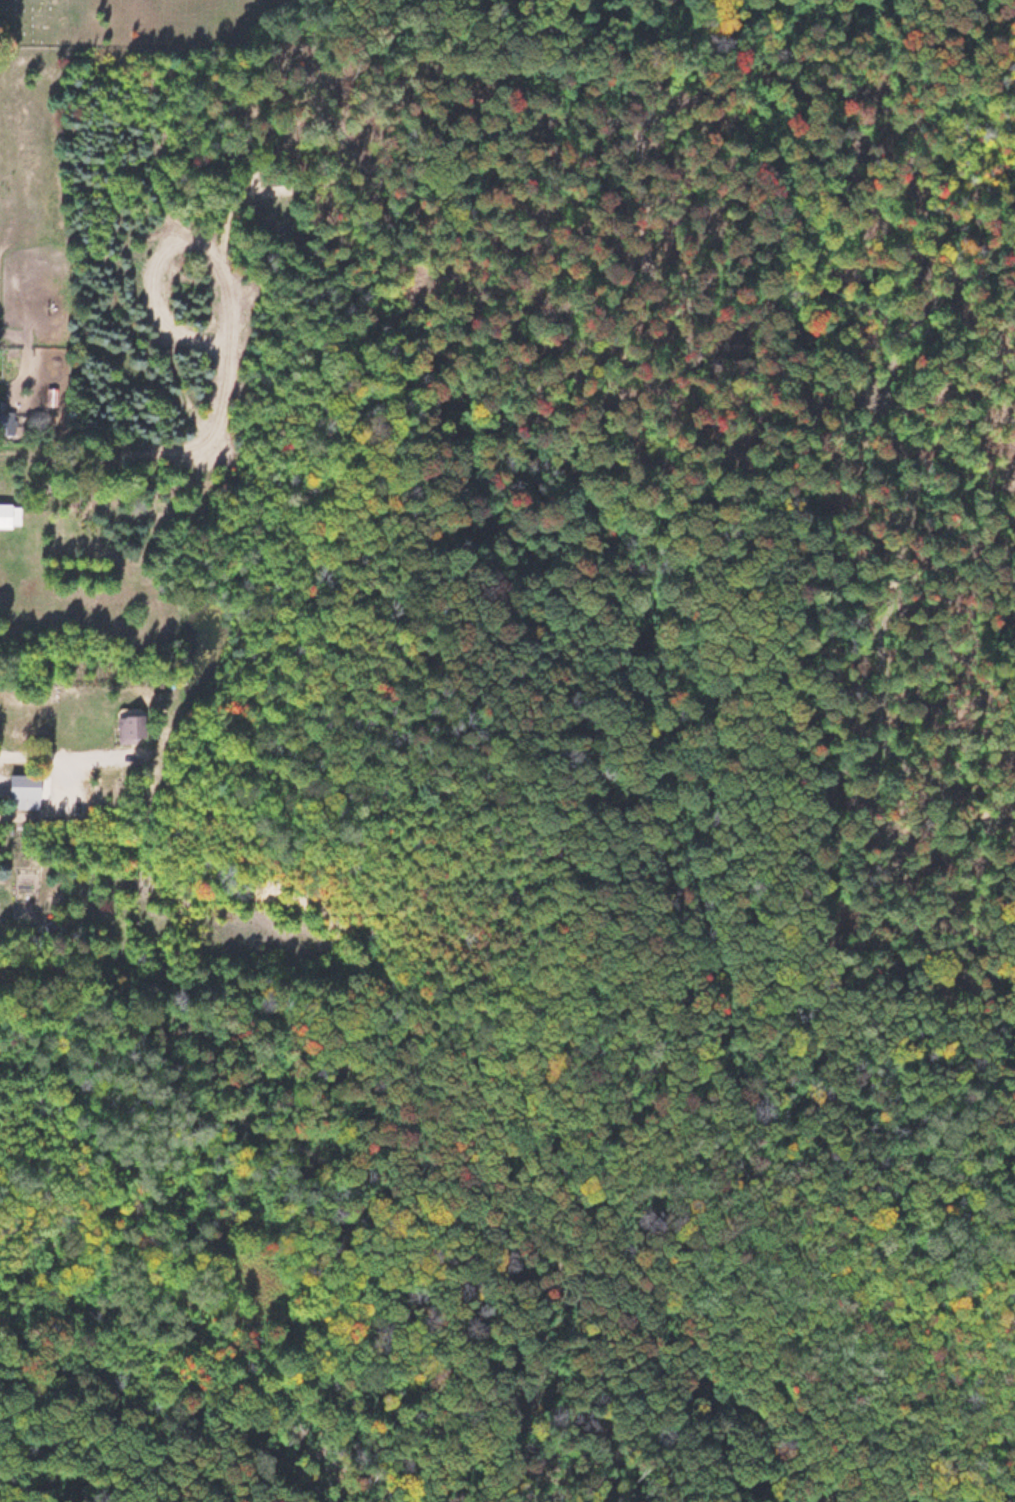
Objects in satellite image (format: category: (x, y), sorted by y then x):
park: (158, 24)
building: (7, 424)
building: (11, 516)
building: (130, 727)

